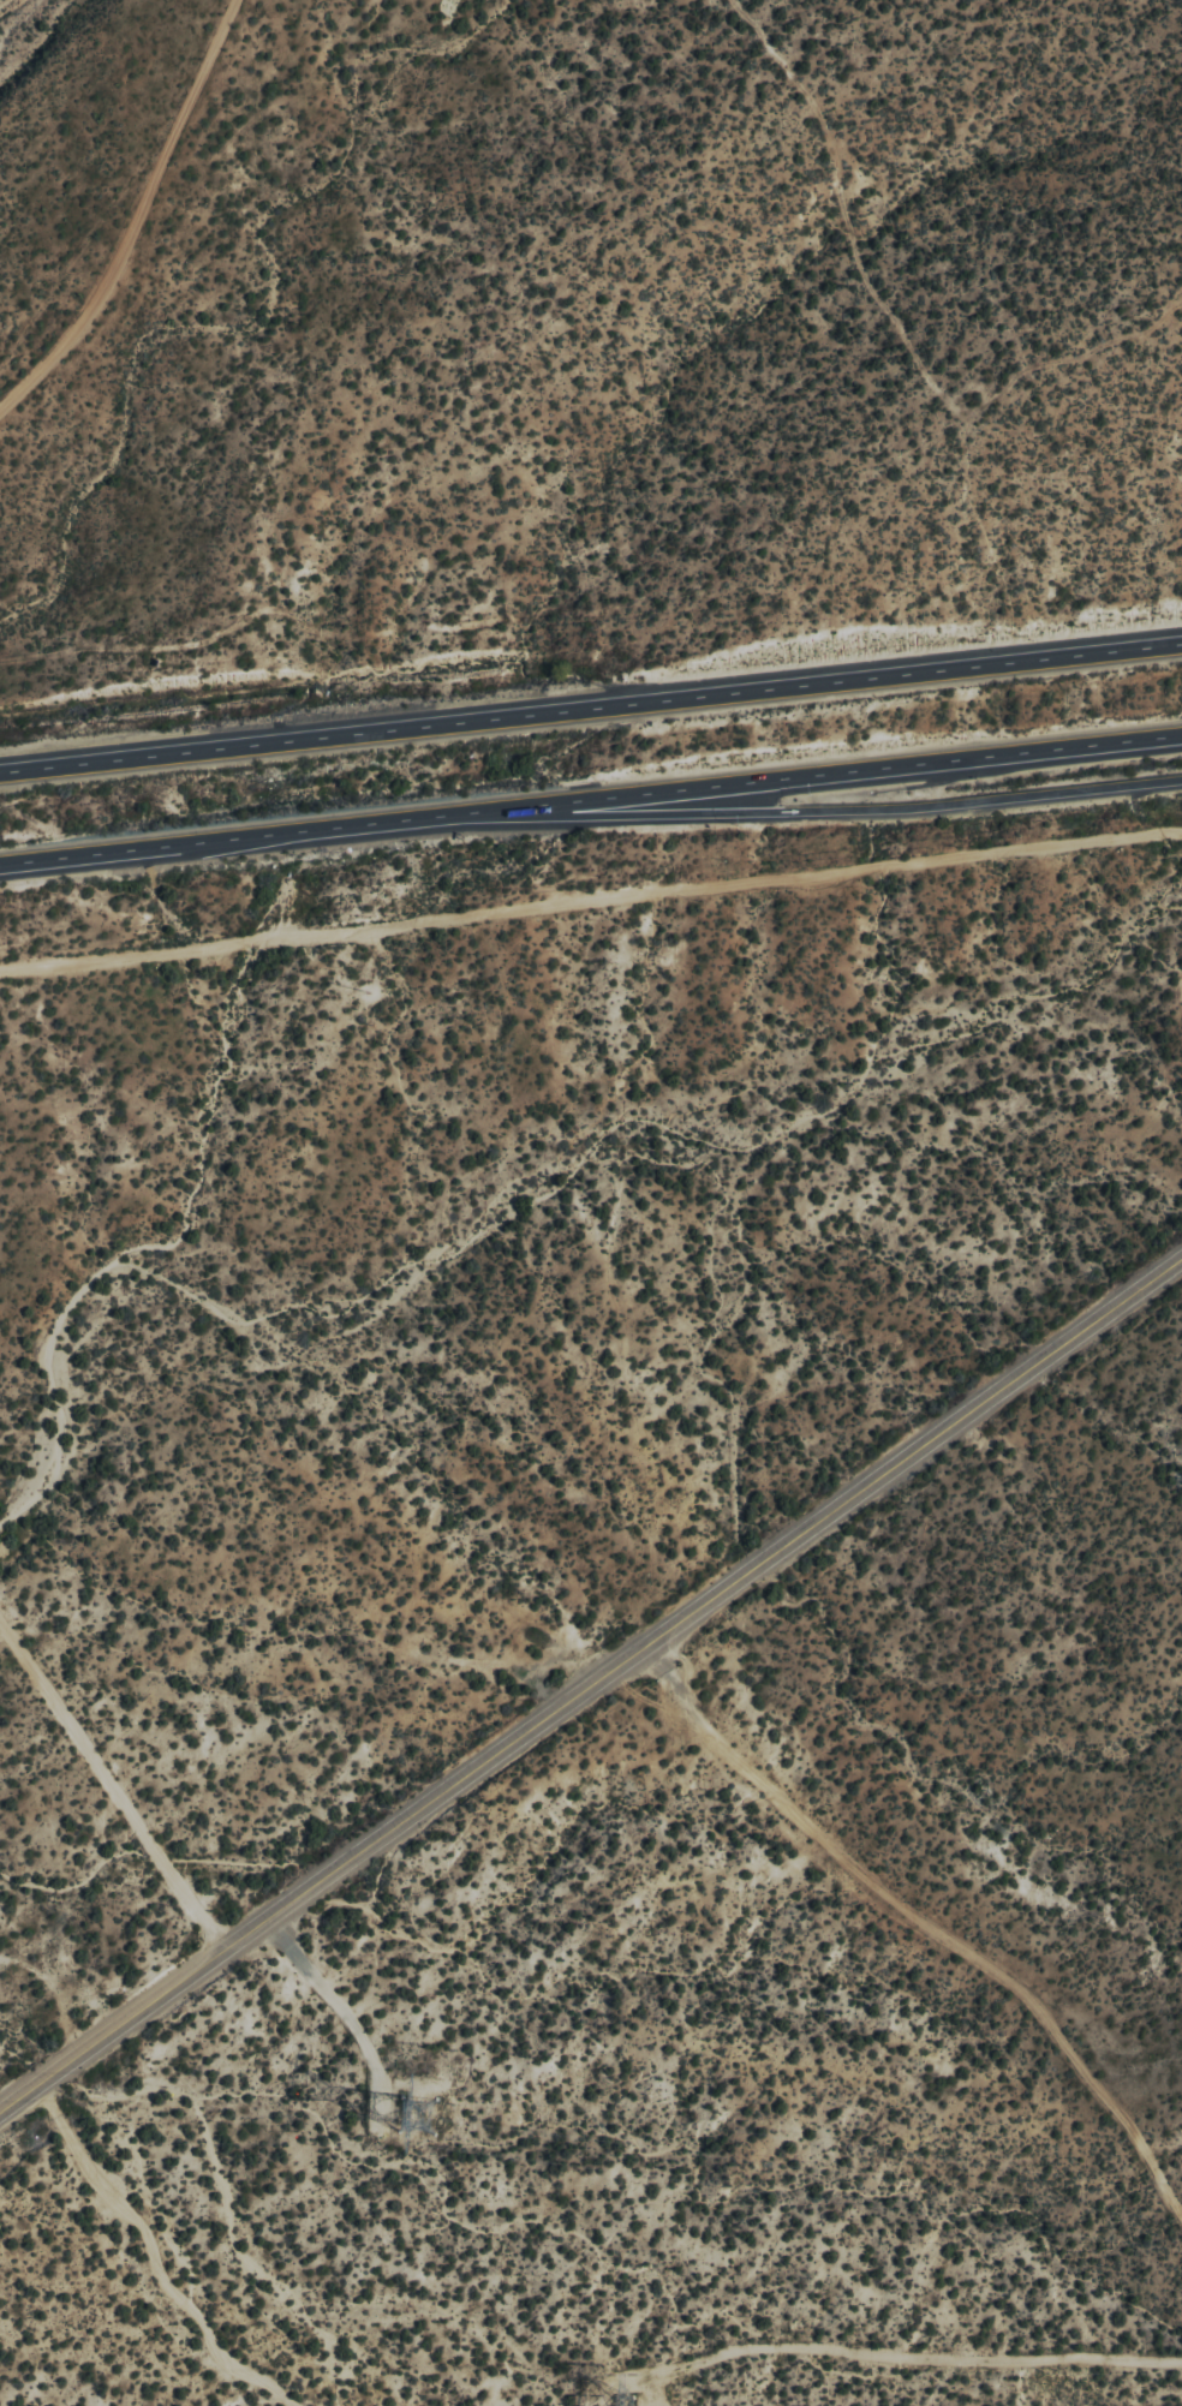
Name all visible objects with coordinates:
road: (137, 216)
road: (591, 706)
road: (591, 806)
road: (850, 814)
road: (591, 905)
road: (591, 1685)
road: (111, 1781)
road: (923, 1927)
power tower: (420, 2115)
power tower: (619, 2399)

